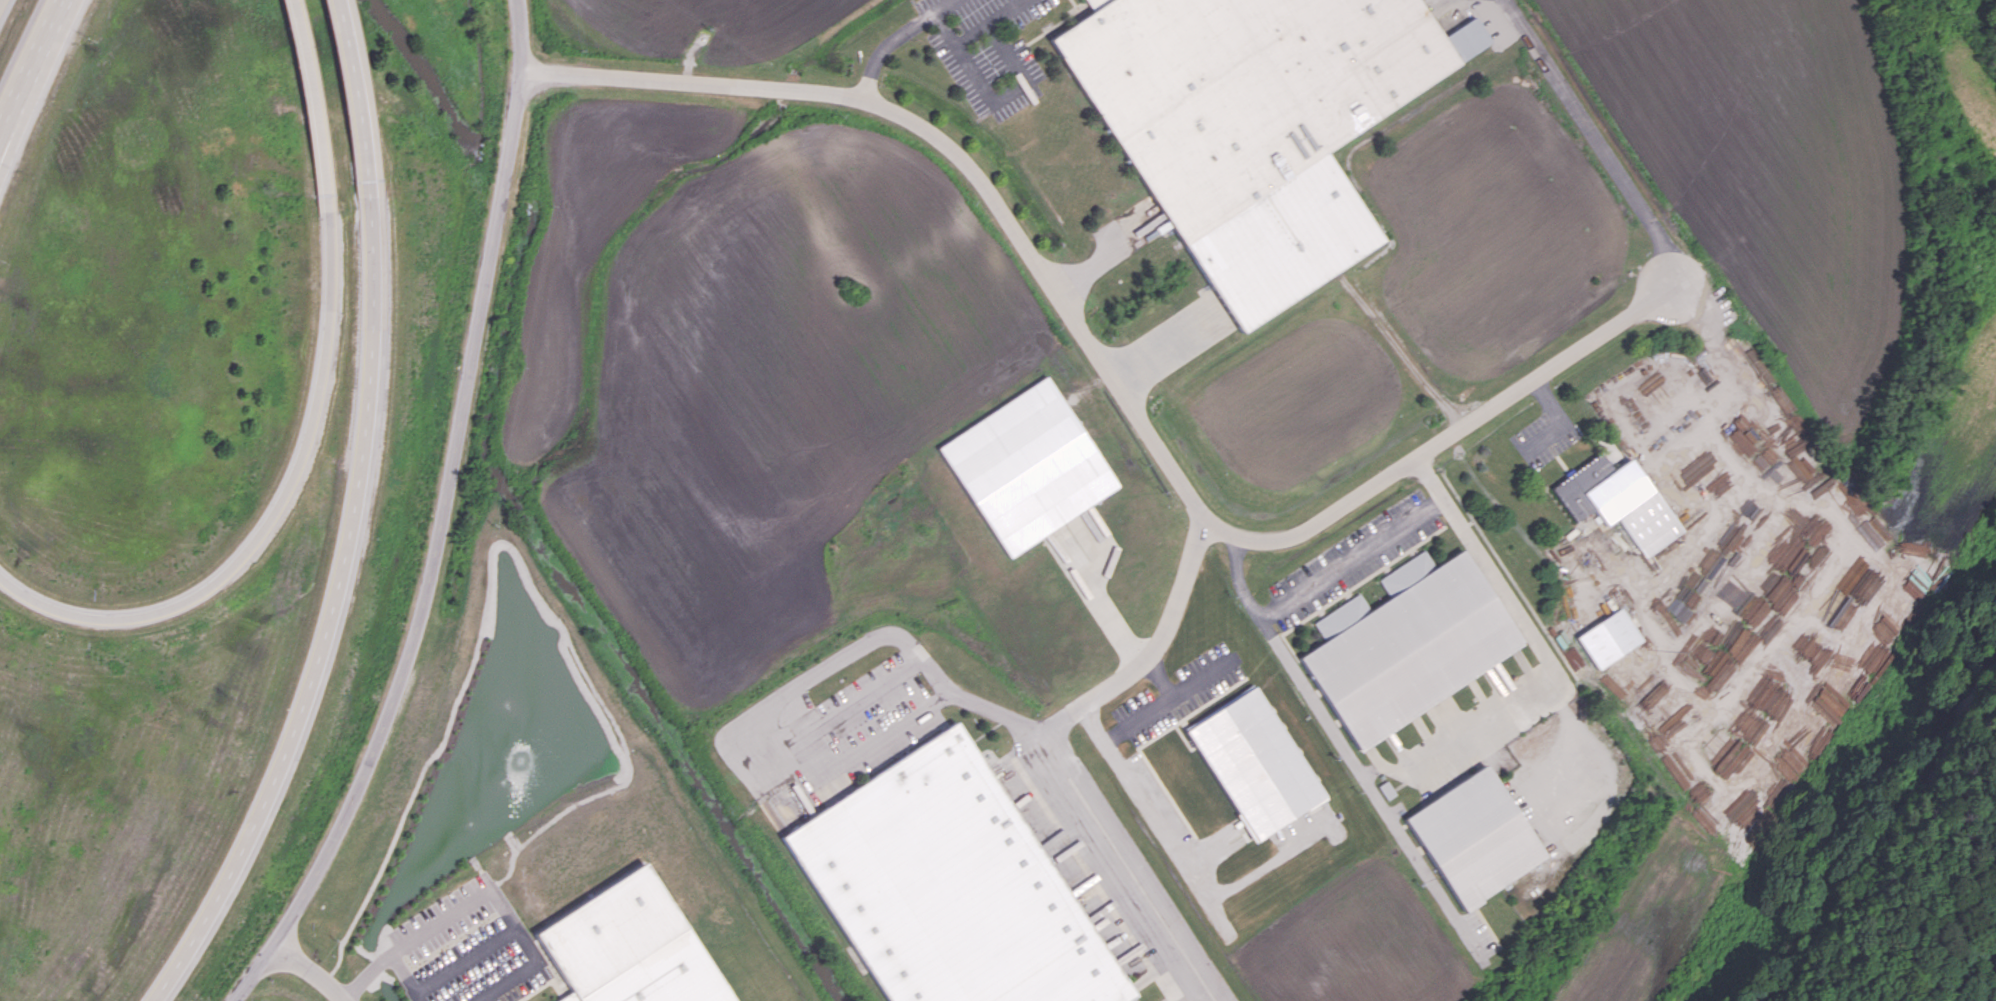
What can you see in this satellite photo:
road: (935, 10)
road: (1007, 13)
road: (880, 51)
road: (29, 60)
road: (346, 67)
road: (690, 81)
road: (36, 89)
road: (1008, 94)
road: (308, 100)
building: (1249, 123)
road: (1597, 138)
road: (1726, 387)
building: (1027, 466)
building: (1600, 489)
road: (271, 514)
road: (1204, 516)
road: (440, 518)
road: (1335, 572)
road: (338, 587)
road: (1534, 637)
building: (1608, 638)
road: (856, 650)
building: (1409, 650)
road: (1142, 661)
road: (1202, 680)
road: (1142, 718)
road: (806, 758)
building: (1254, 762)
road: (1375, 771)
building: (1476, 837)
road: (1131, 866)
building: (947, 887)
road: (457, 910)
road: (480, 951)
road: (382, 962)
road: (313, 974)
building: (659, 976)
road: (509, 984)

